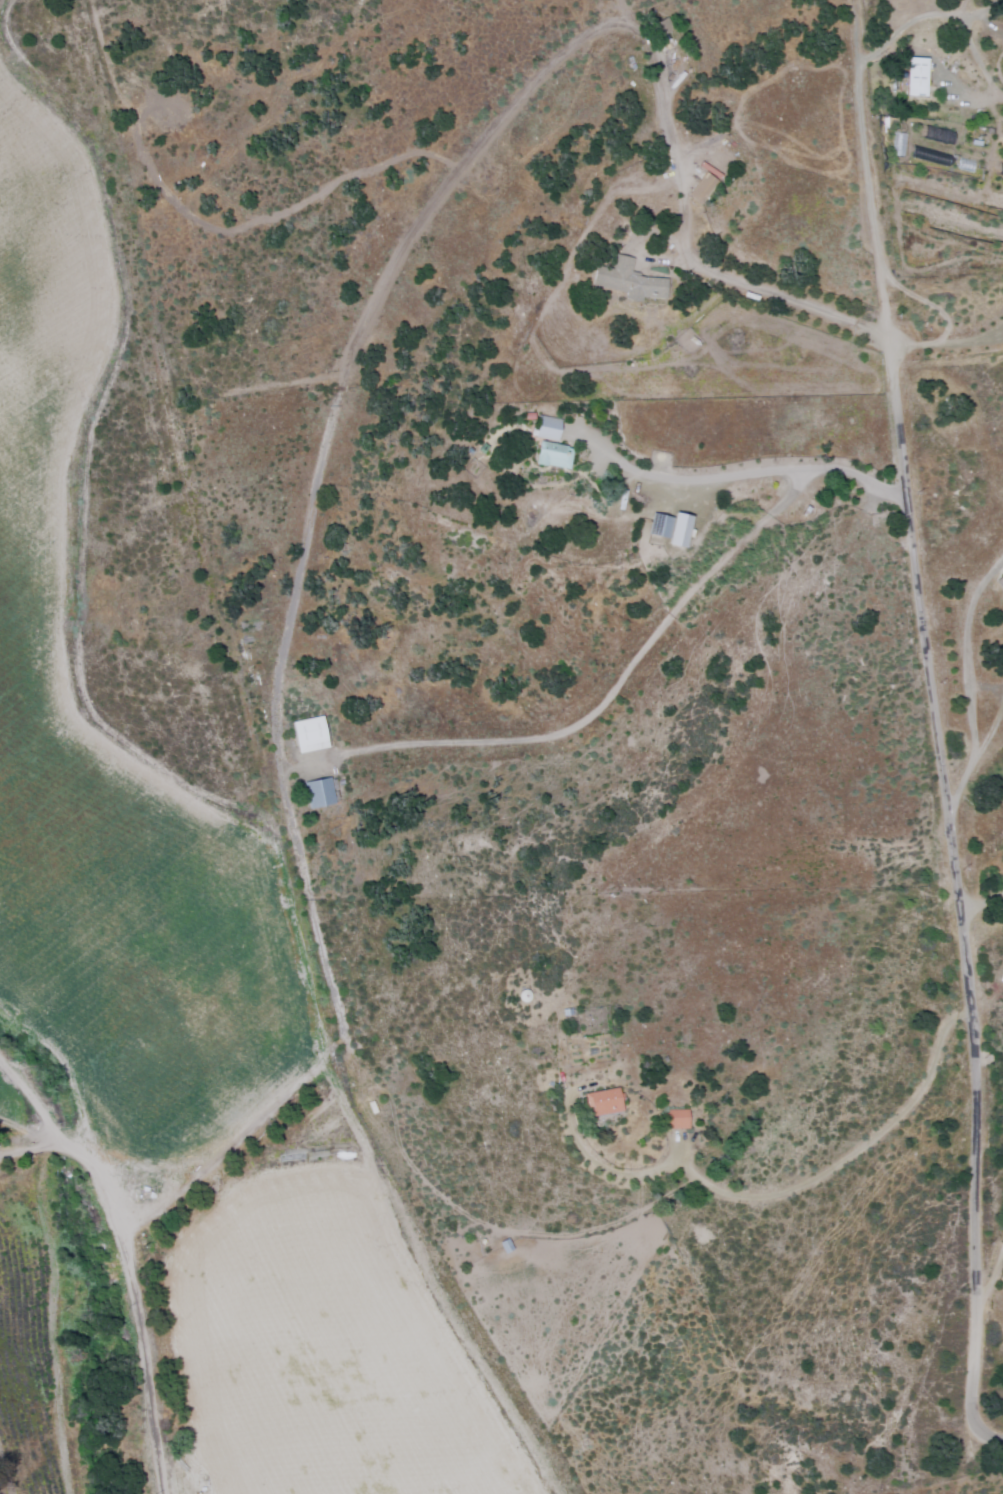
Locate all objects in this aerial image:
crop: (1, 2)
building: (657, 27)
building: (913, 75)
road: (869, 167)
building: (701, 186)
building: (628, 280)
road: (945, 340)
road: (336, 399)
building: (544, 427)
building: (550, 454)
road: (956, 499)
building: (669, 528)
building: (999, 582)
road: (932, 679)
building: (306, 734)
building: (316, 792)
crop: (181, 1023)
building: (600, 1102)
building: (675, 1119)
road: (974, 1208)
building: (502, 1246)
road: (122, 1260)
road: (977, 1418)

